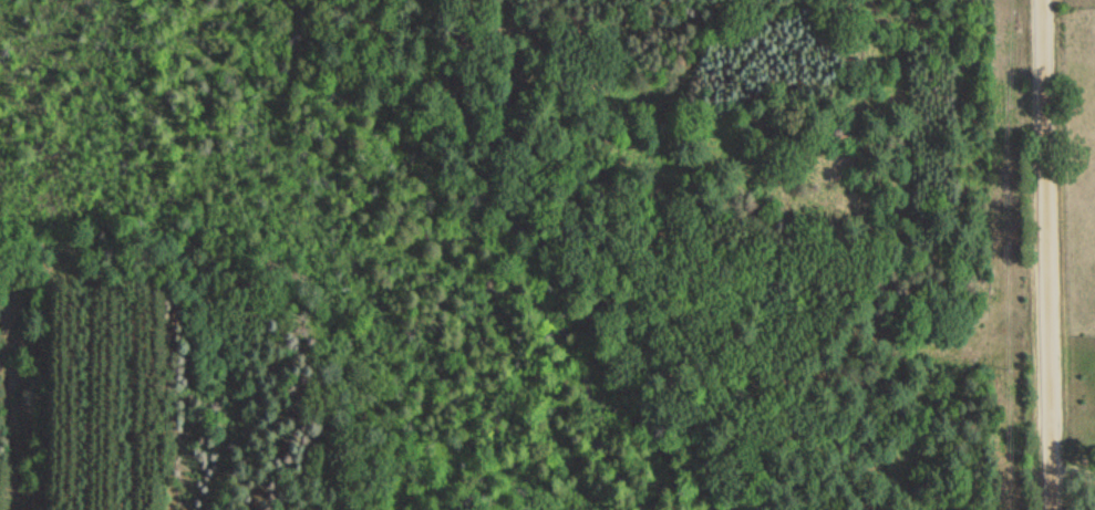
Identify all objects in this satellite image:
road: (1051, 254)

